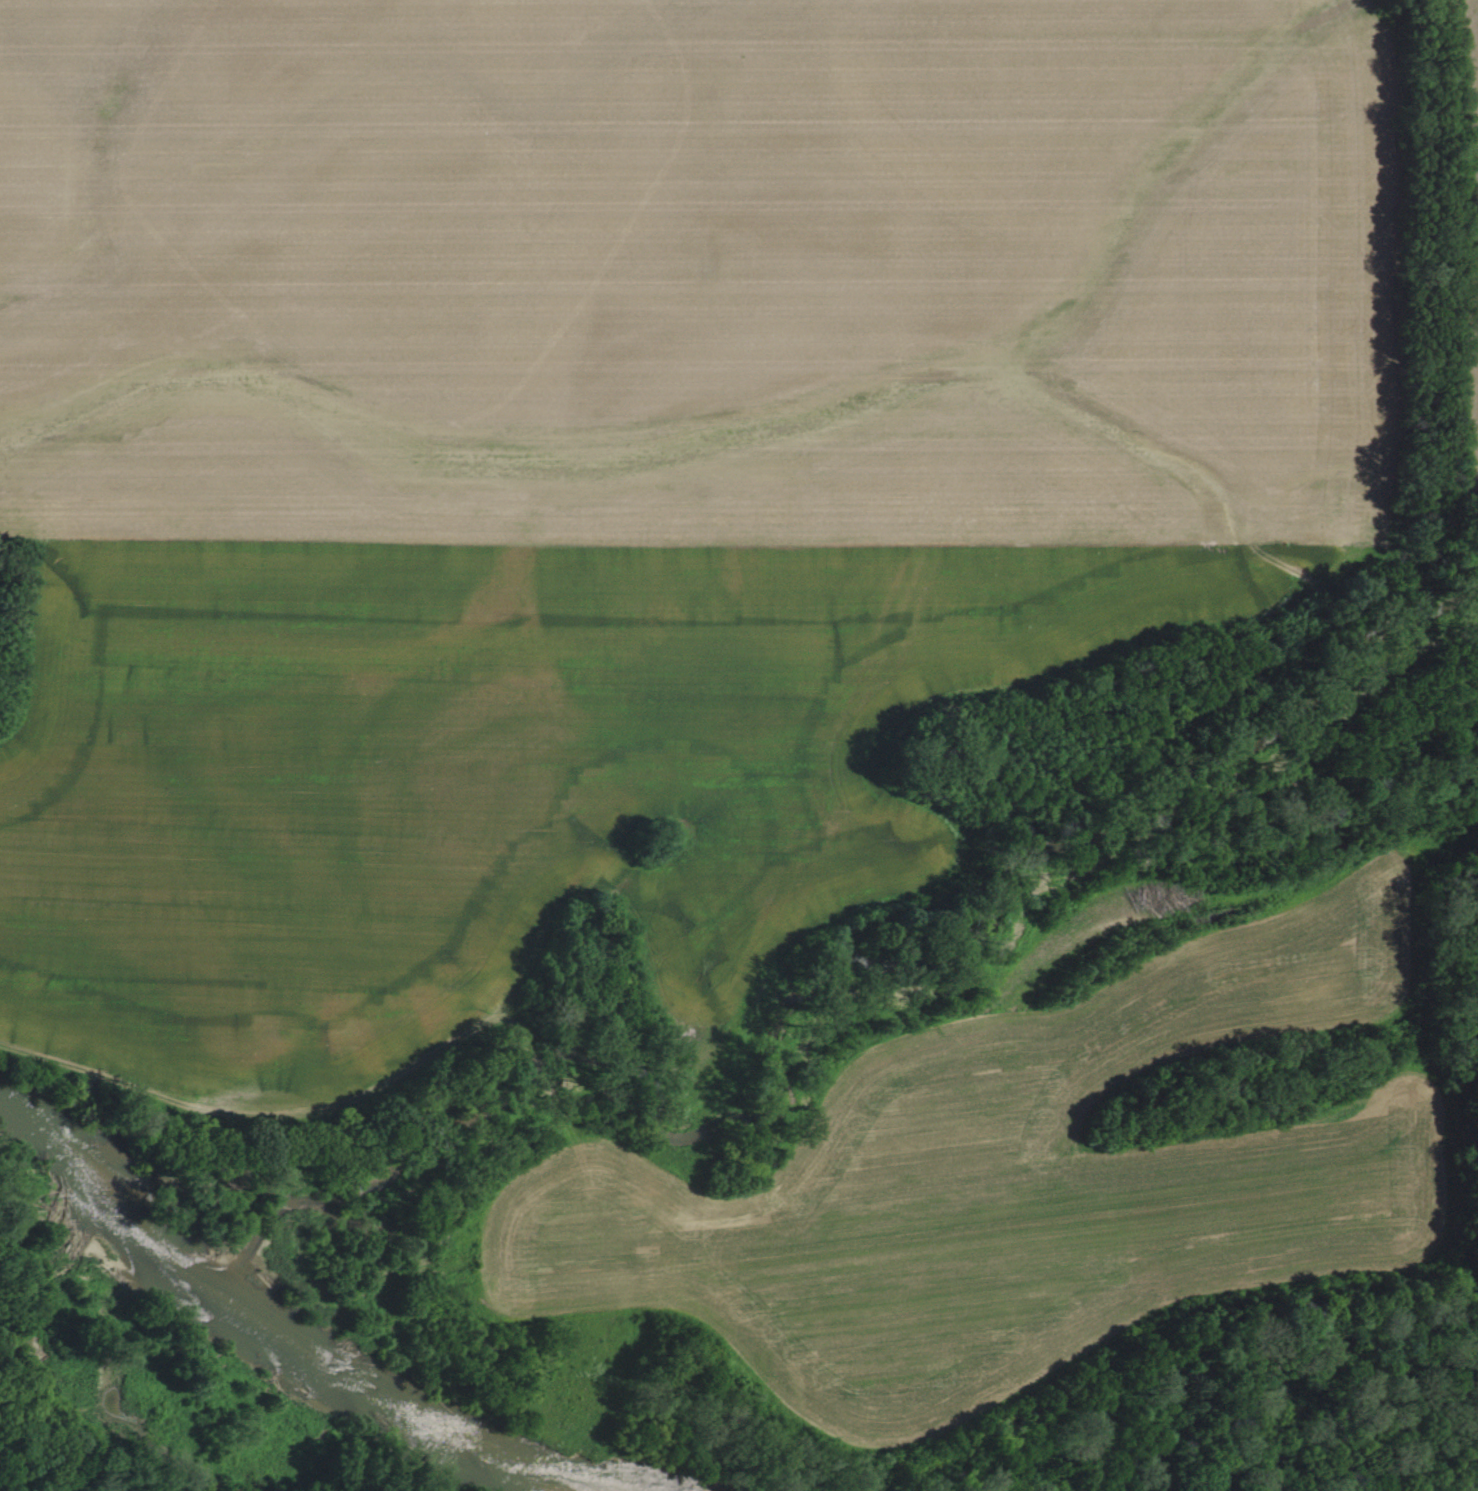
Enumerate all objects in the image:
river: (242, 1330)

